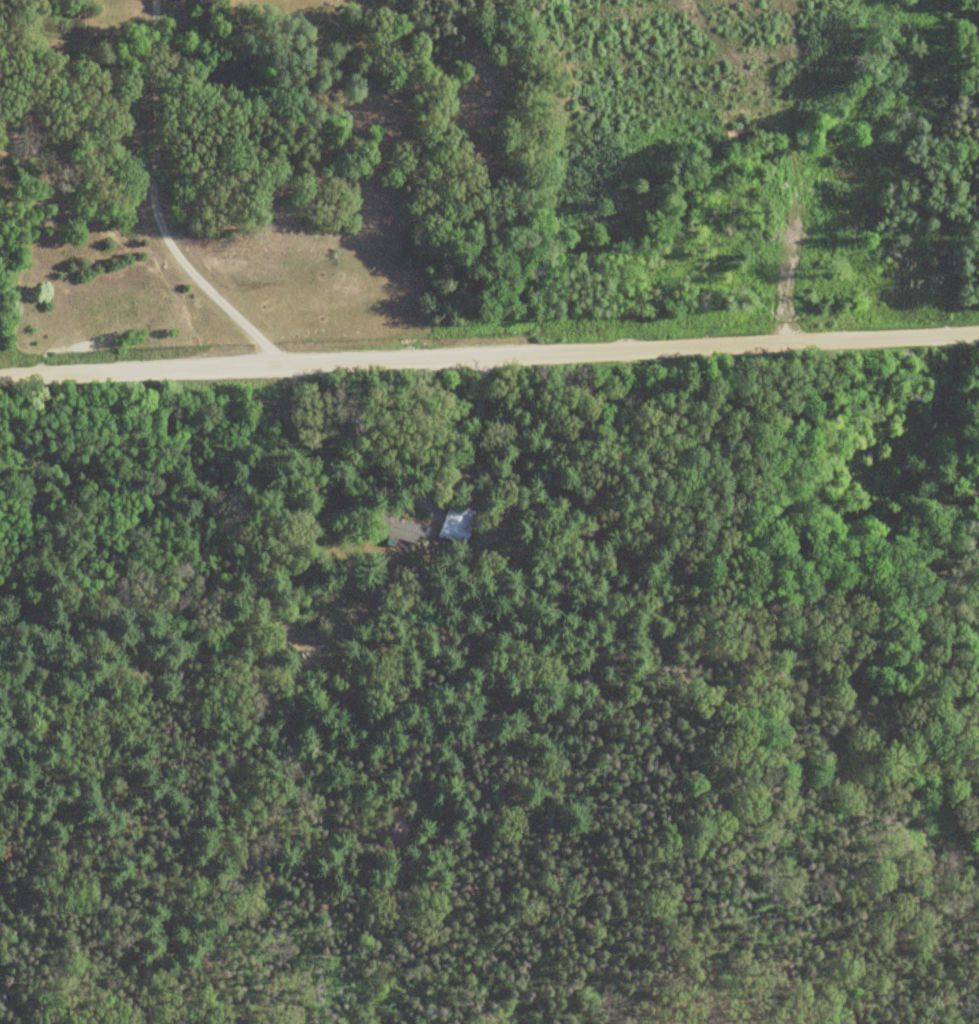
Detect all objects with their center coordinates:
road: (489, 357)
building: (457, 524)
building: (398, 529)

